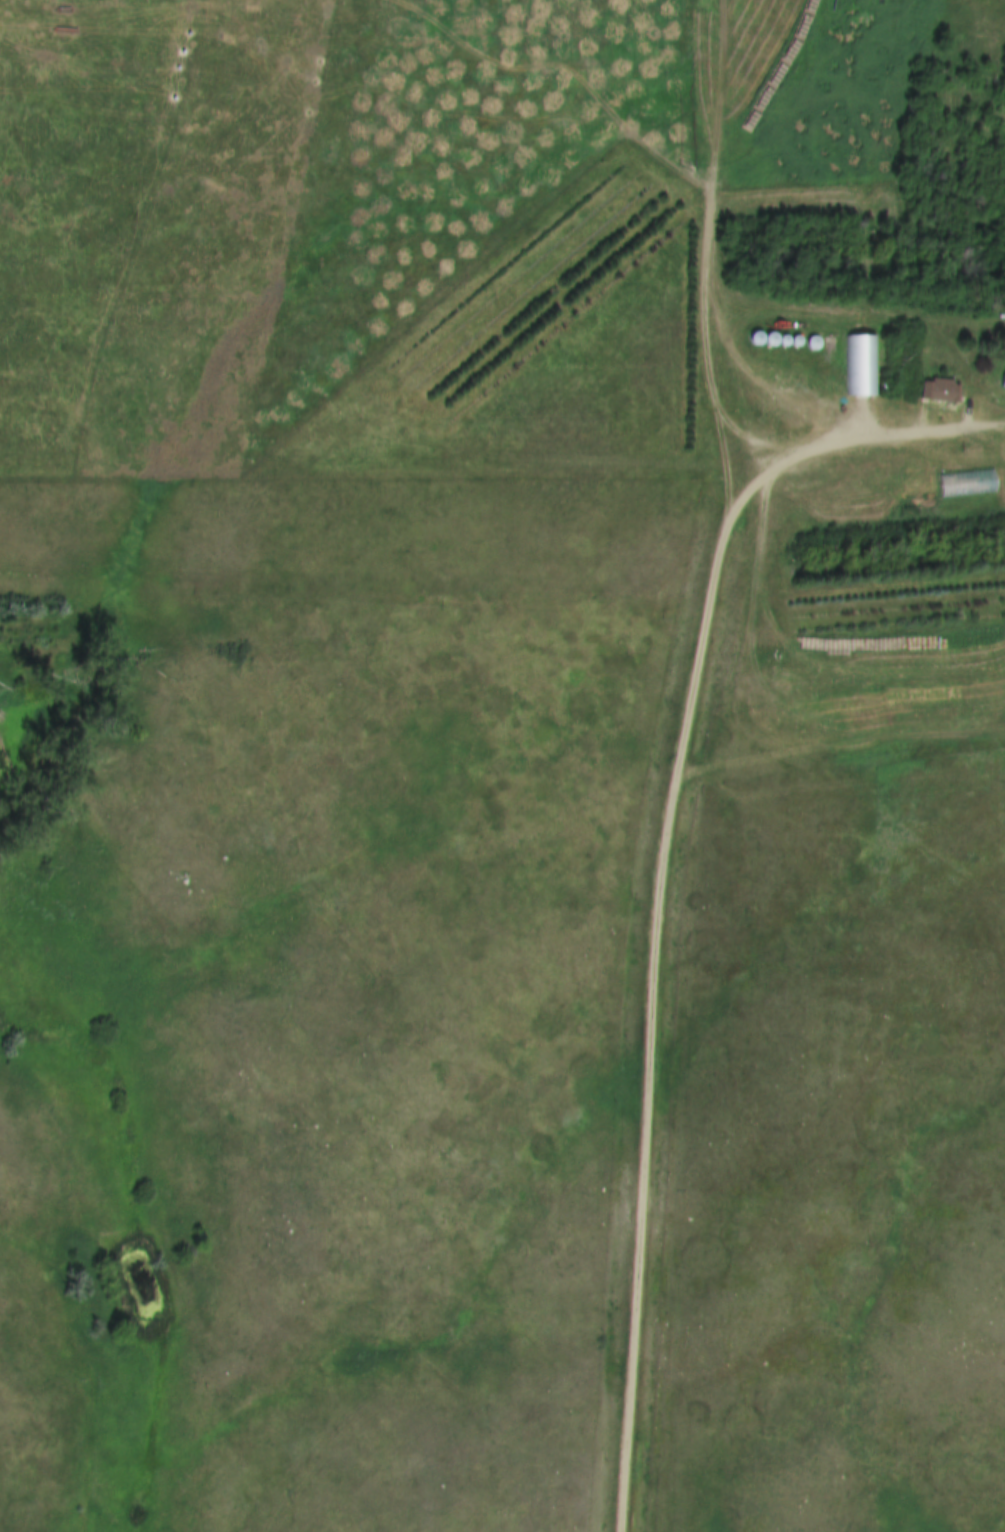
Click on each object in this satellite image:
building: (863, 366)
building: (1003, 382)
building: (940, 391)
road: (662, 870)

